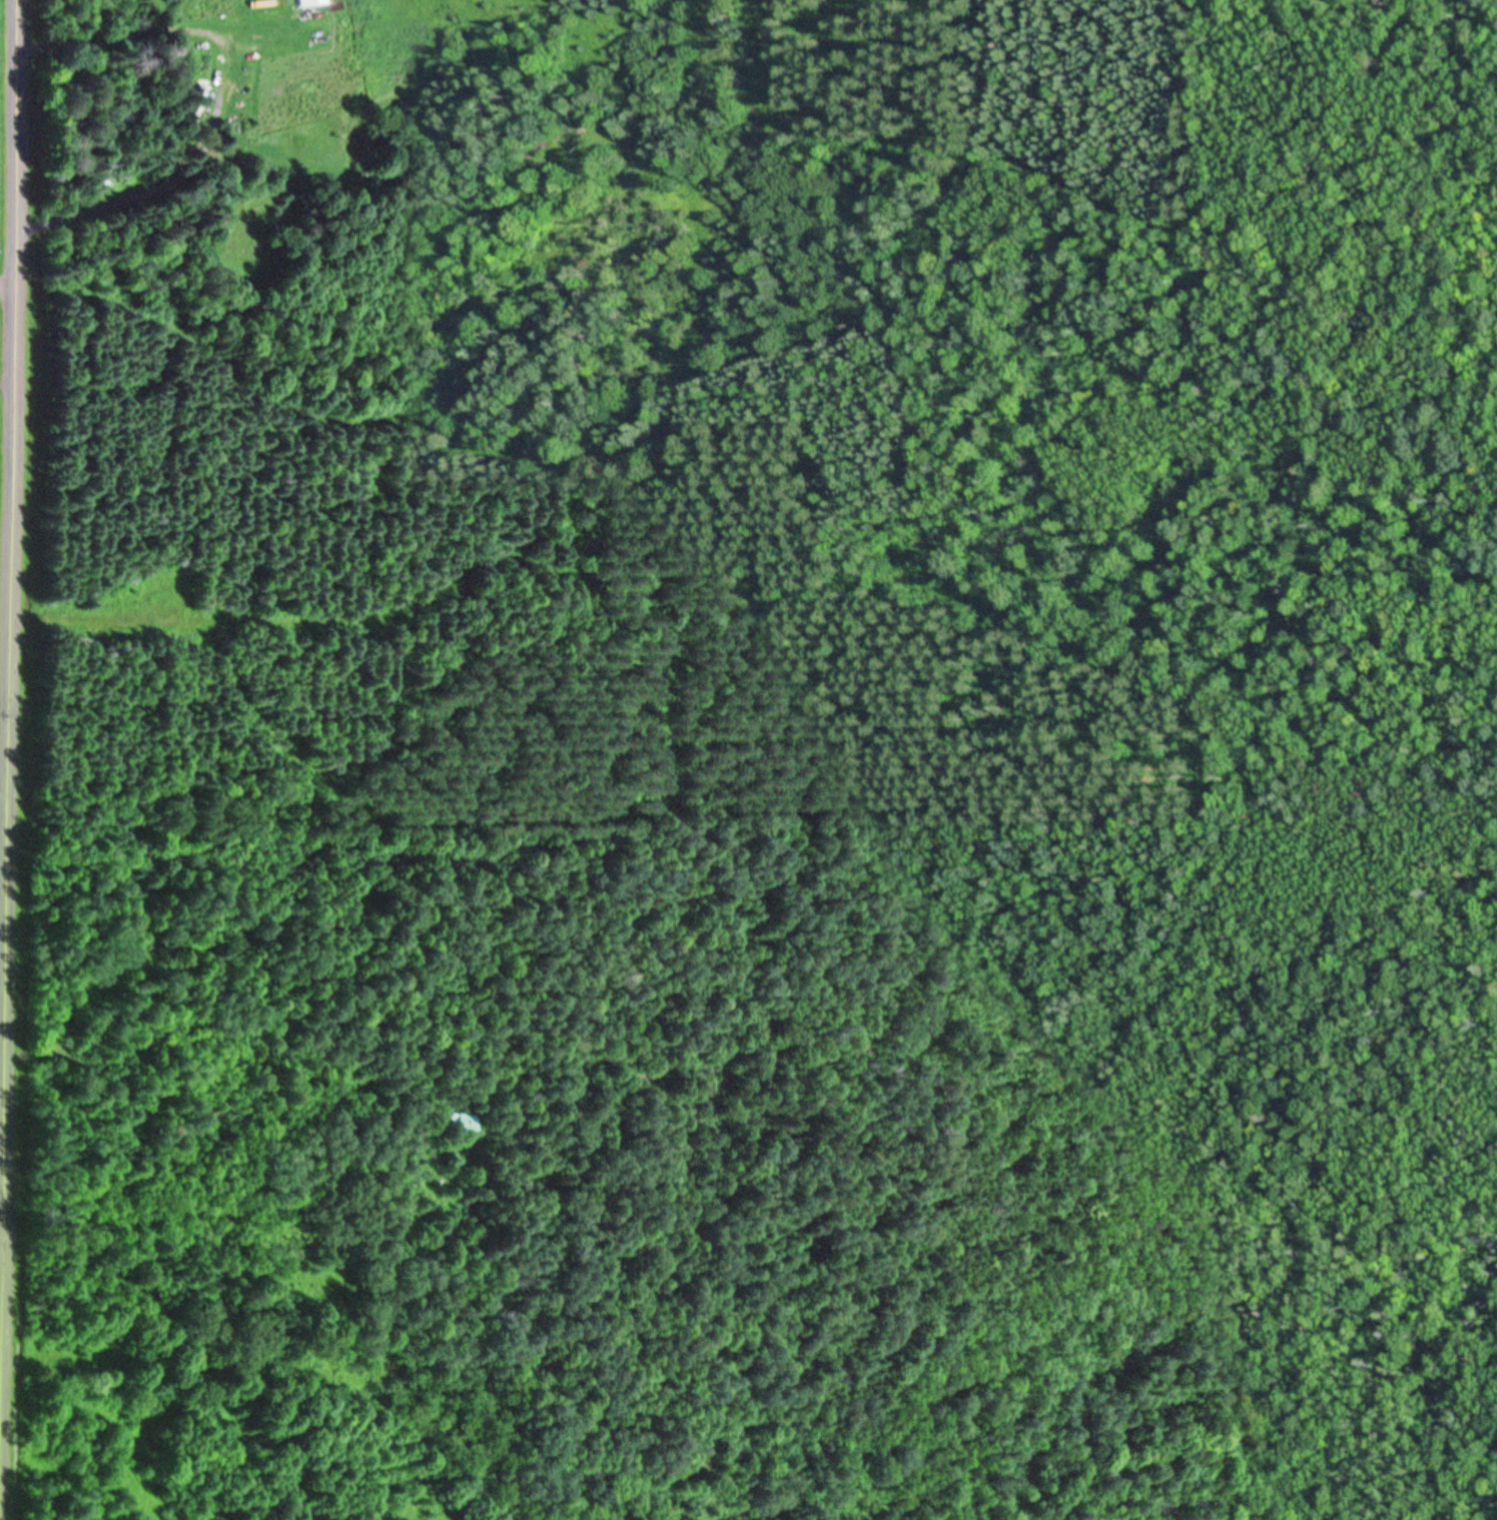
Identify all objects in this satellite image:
building: (317, 3)
road: (10, 760)
building: (467, 1125)

